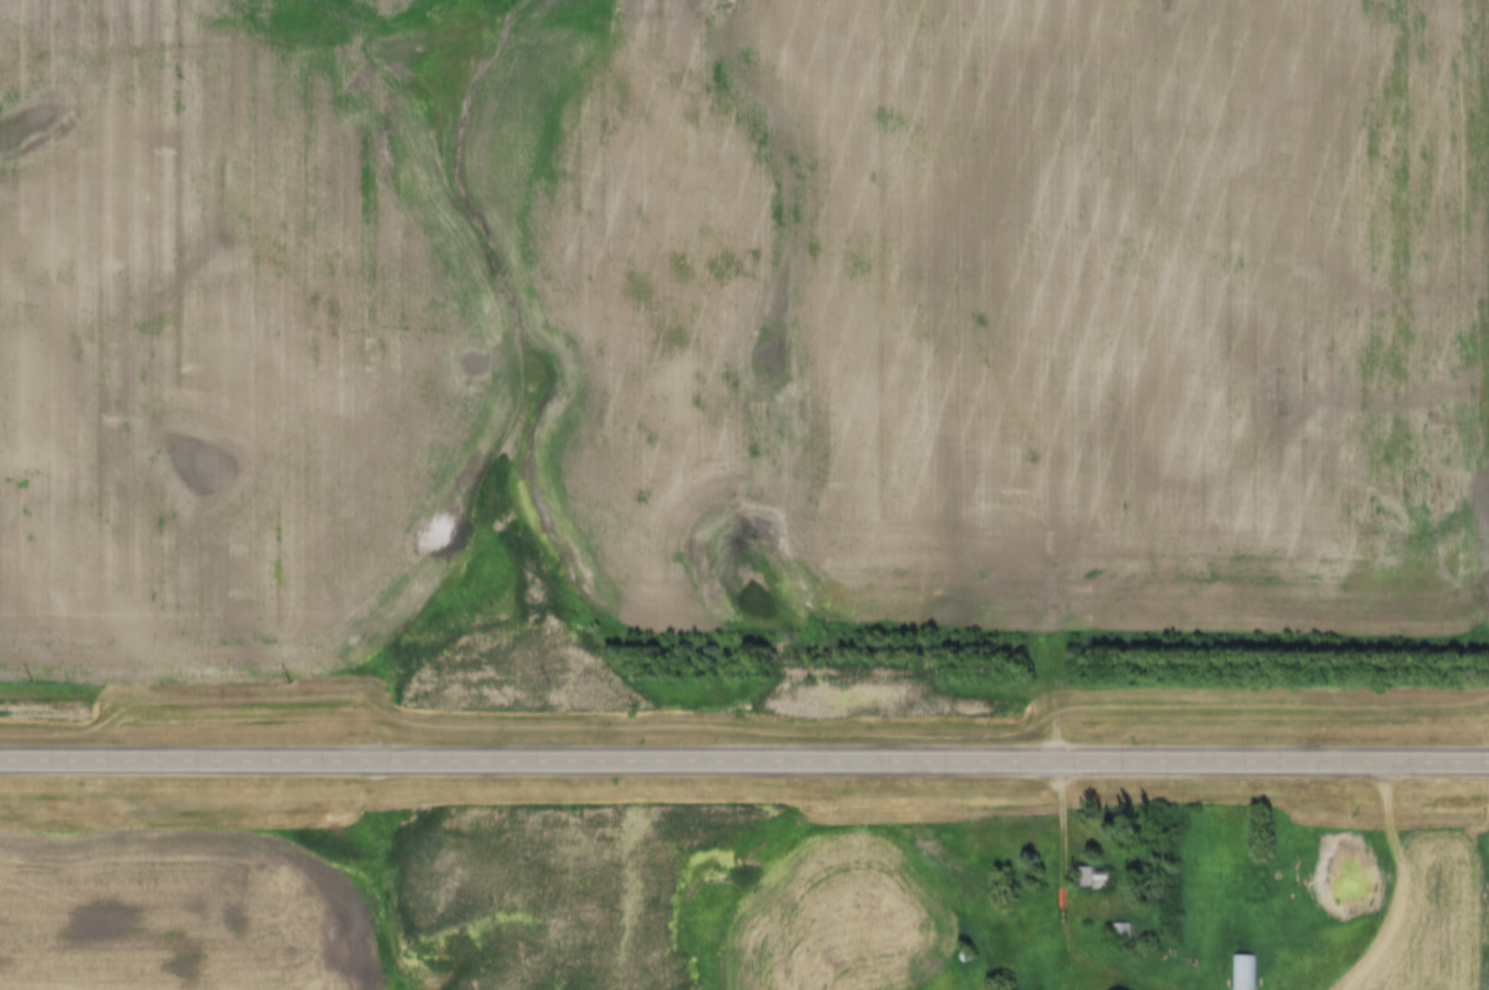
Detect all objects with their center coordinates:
road: (744, 764)
building: (1088, 879)
road: (1064, 903)
building: (1119, 931)
building: (1242, 972)

